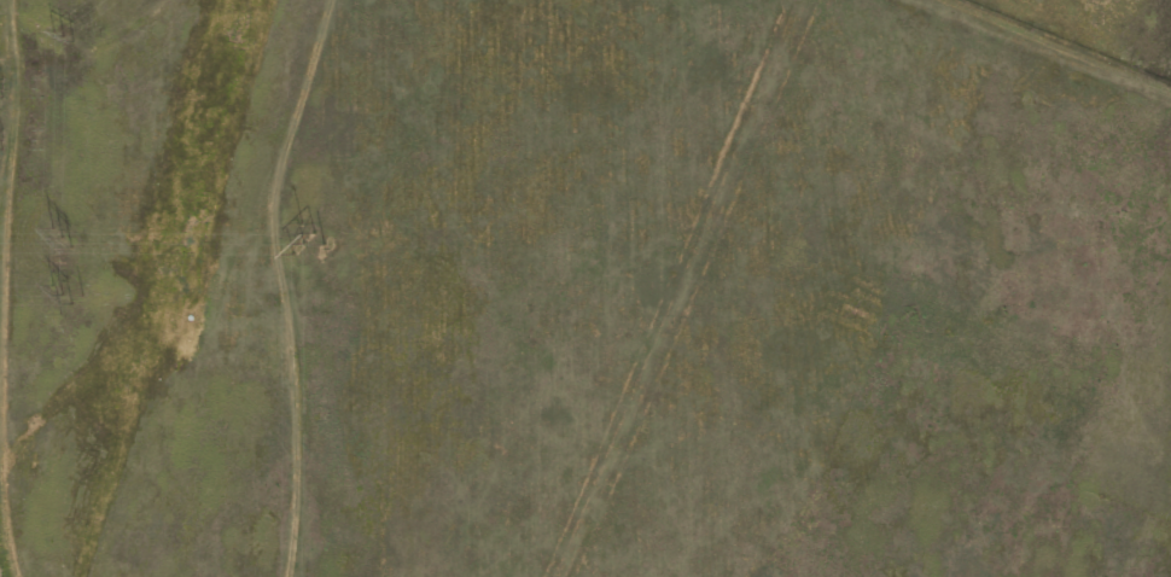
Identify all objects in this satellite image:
power tower: (65, 35)
power tower: (5, 89)
power tower: (5, 141)
power tower: (64, 243)
power tower: (308, 244)
power tower: (65, 295)

